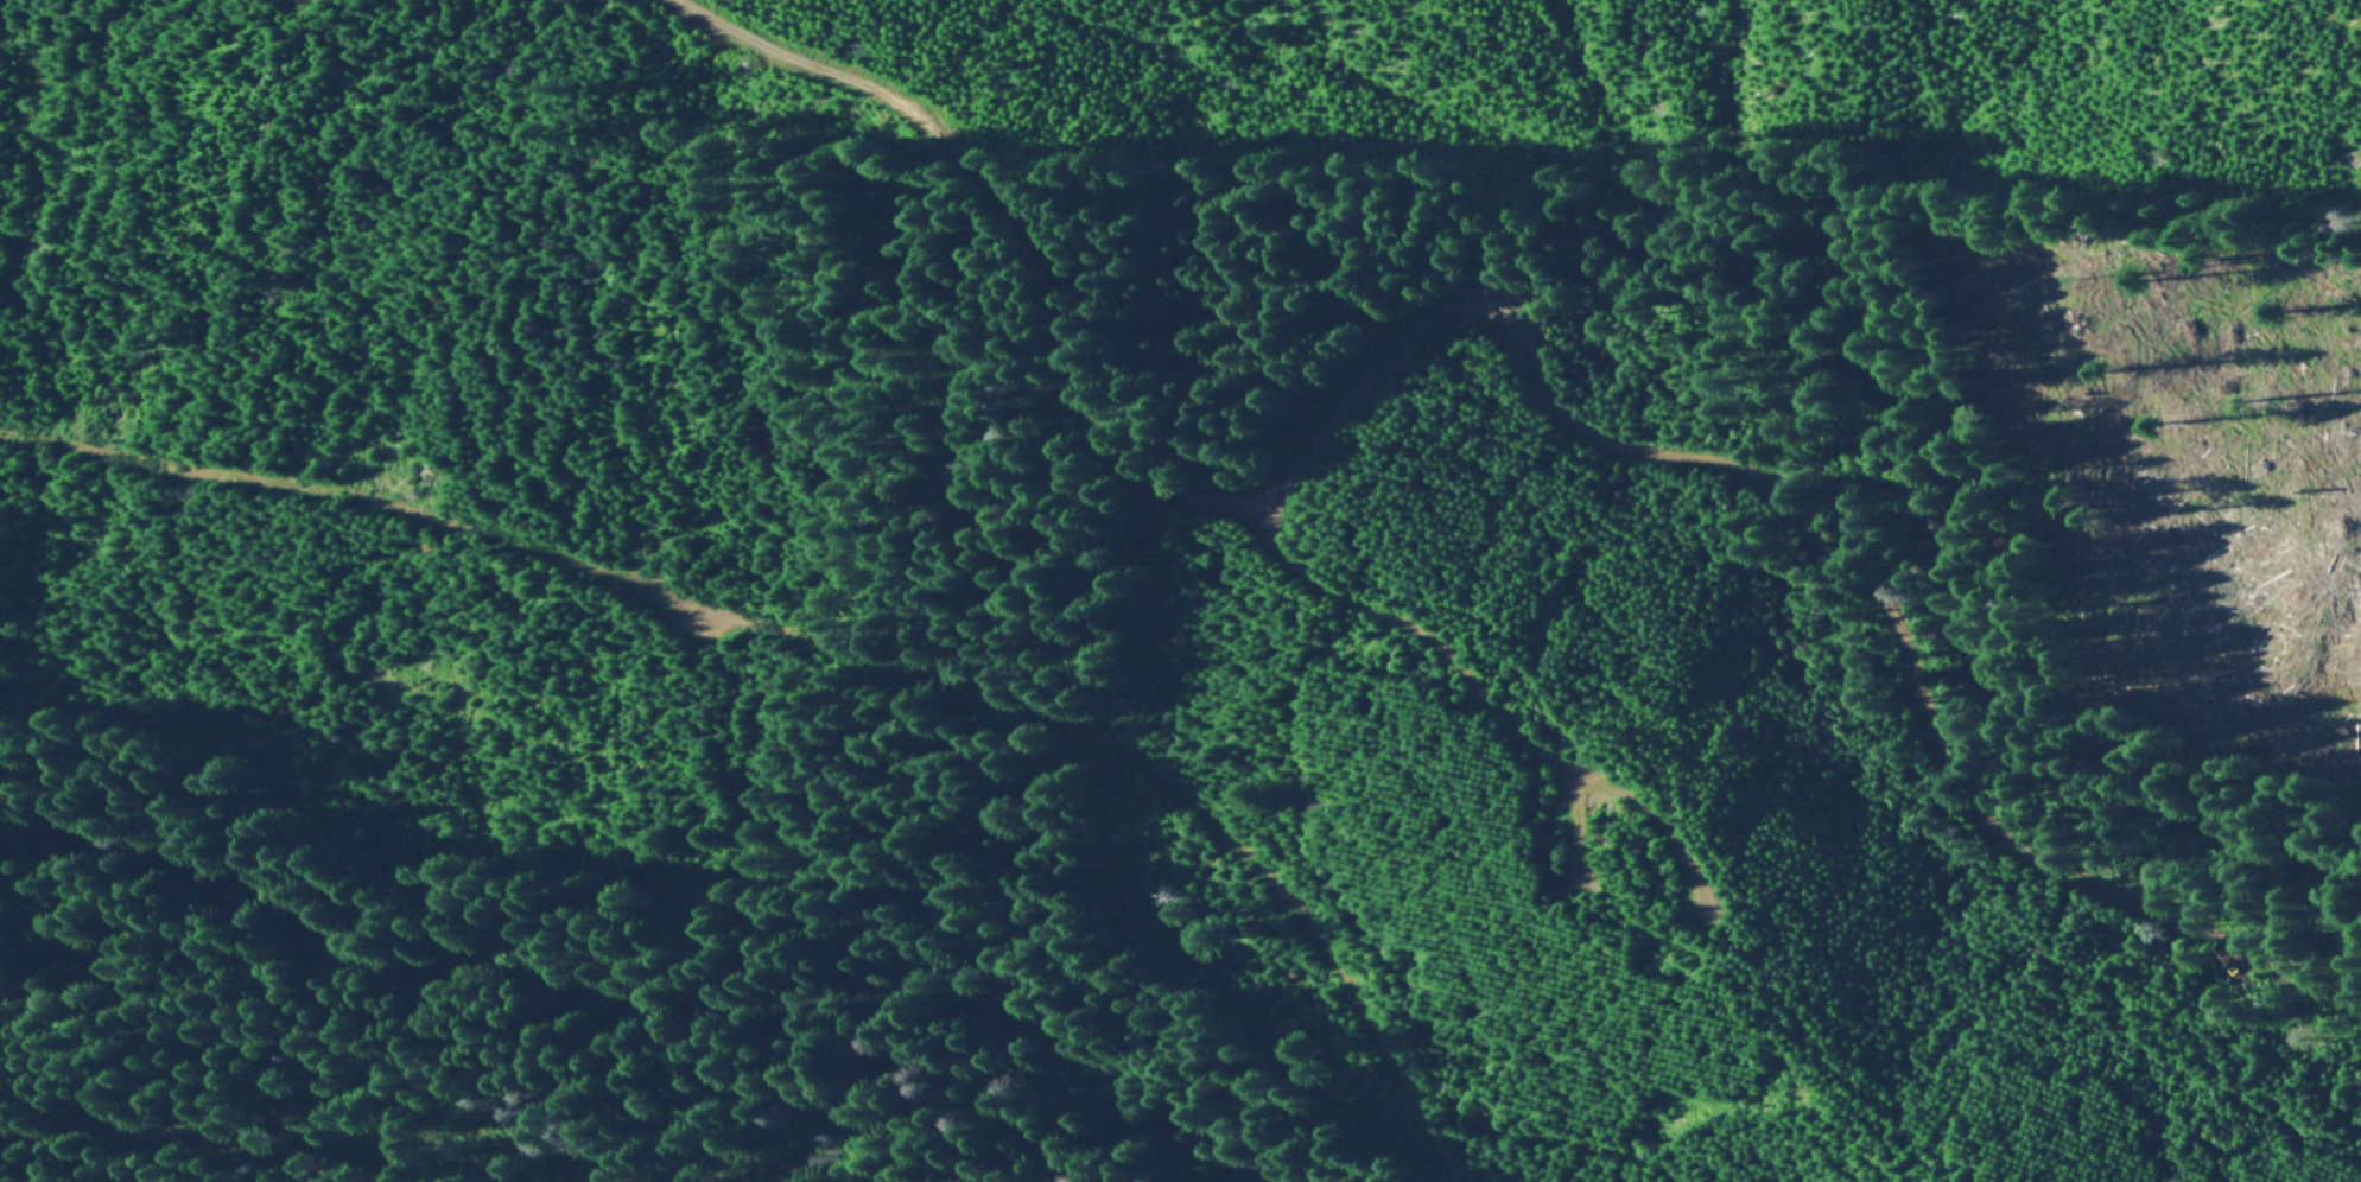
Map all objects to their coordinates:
road: (1042, 228)
road: (1559, 400)
road: (833, 641)
road: (1578, 812)
road: (150, 1125)

